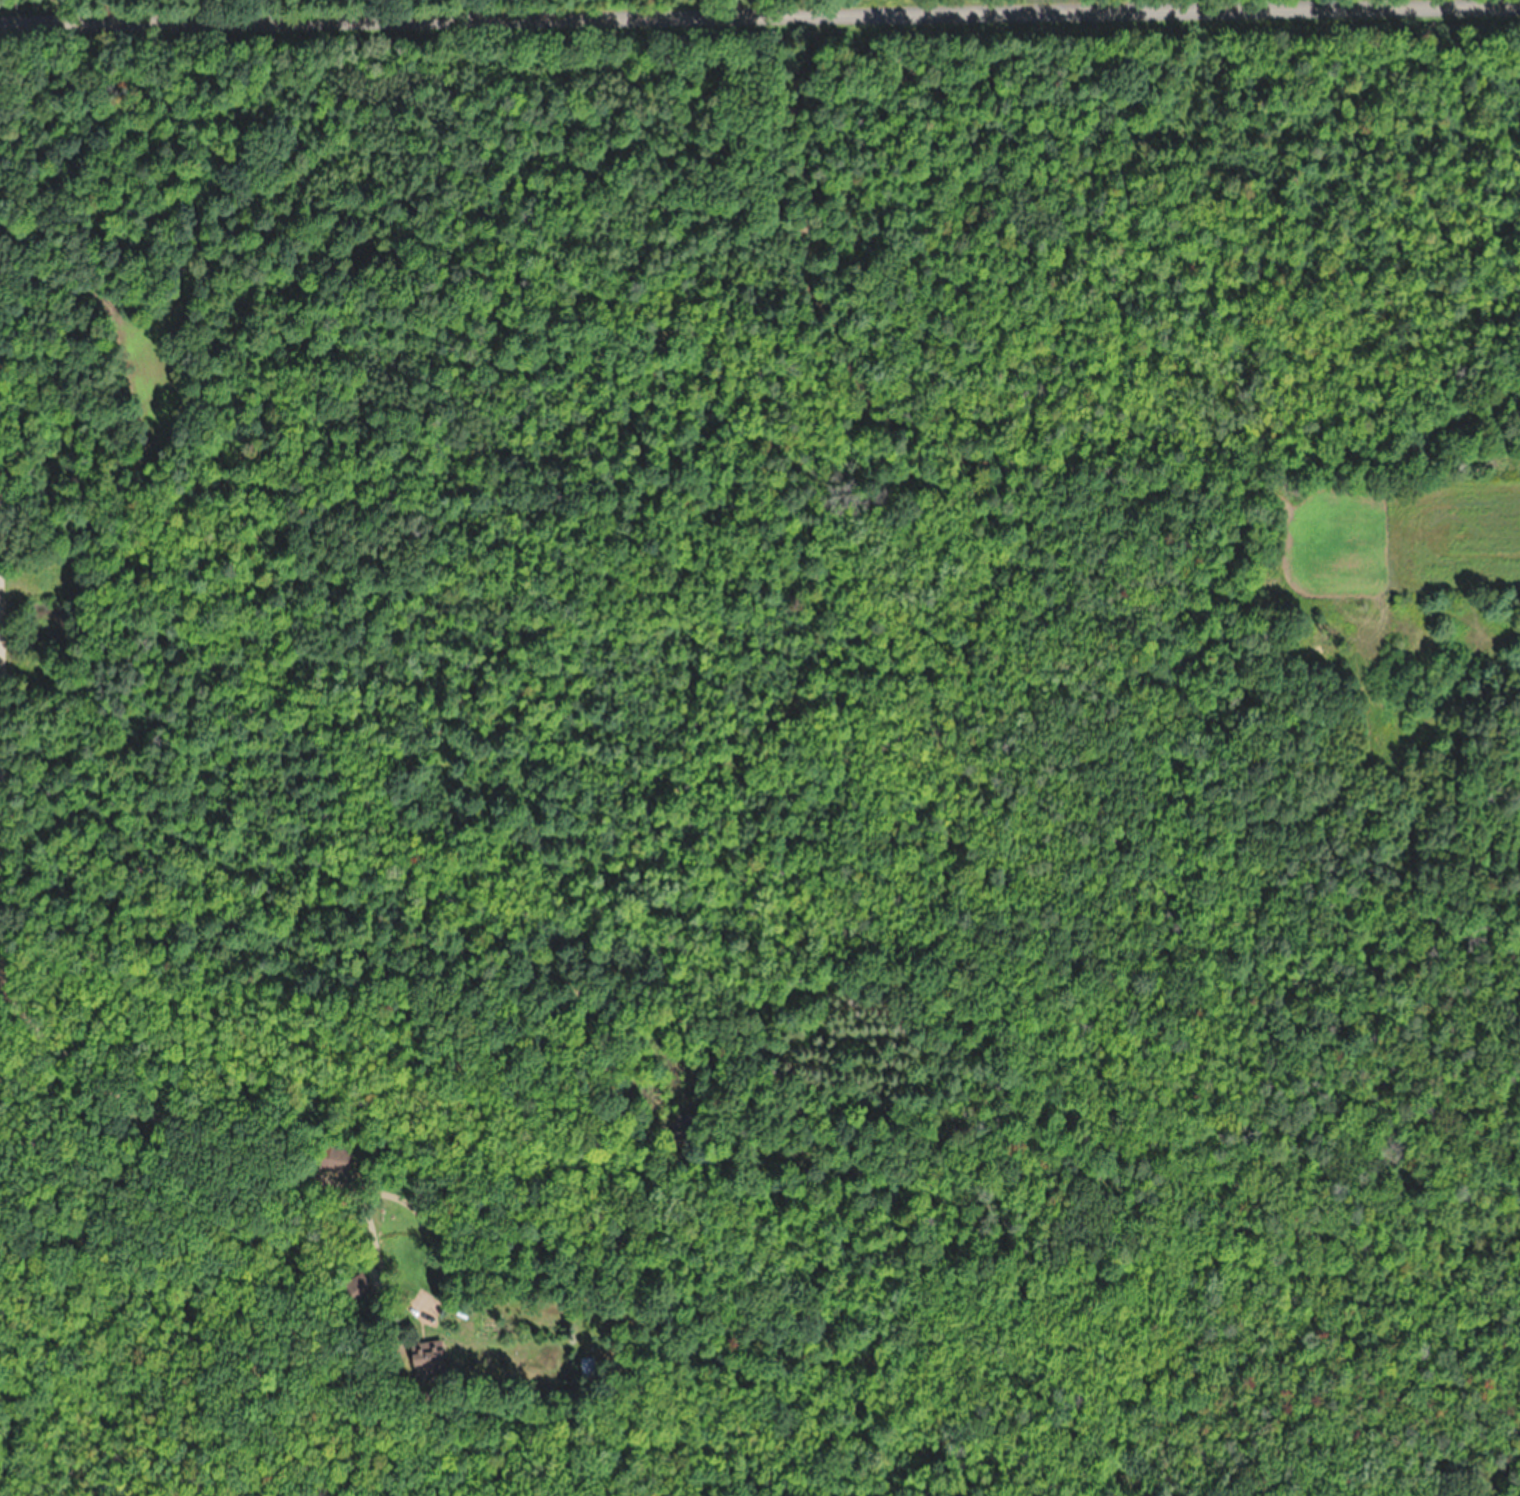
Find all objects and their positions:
road: (760, 17)
road: (1, 819)
building: (338, 1159)
building: (358, 1288)
building: (428, 1359)
building: (588, 1367)

